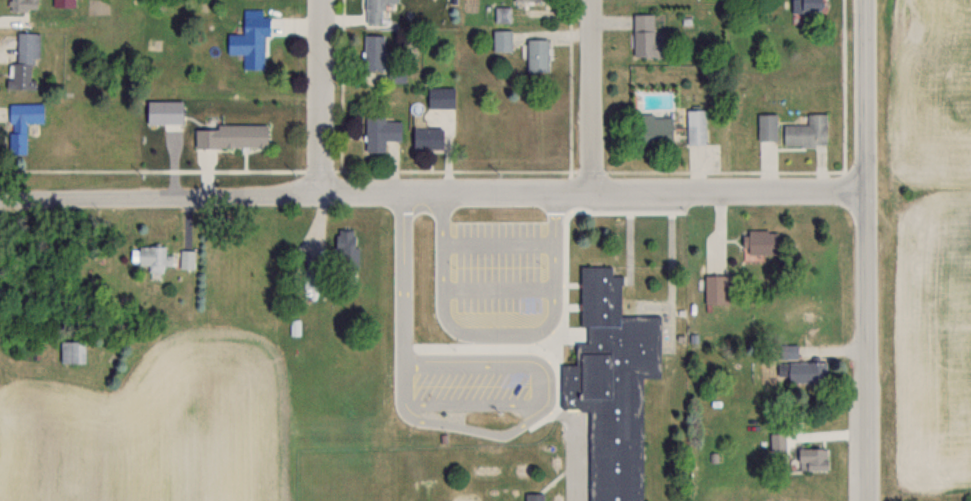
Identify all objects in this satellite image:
building: (531, 1)
building: (24, 4)
building: (805, 5)
building: (375, 10)
building: (645, 37)
building: (501, 40)
building: (249, 41)
building: (373, 51)
building: (536, 54)
building: (24, 62)
road: (322, 96)
road: (593, 96)
building: (21, 124)
building: (695, 125)
building: (766, 125)
building: (651, 128)
building: (806, 131)
building: (381, 132)
building: (427, 137)
road: (433, 193)
road: (443, 240)
road: (554, 241)
building: (760, 241)
road: (498, 242)
building: (346, 248)
road: (867, 250)
building: (152, 256)
road: (496, 287)
road: (404, 298)
building: (71, 350)
road: (473, 365)
building: (801, 370)
building: (610, 385)
road: (497, 402)
building: (778, 441)
building: (812, 458)
building: (532, 497)

